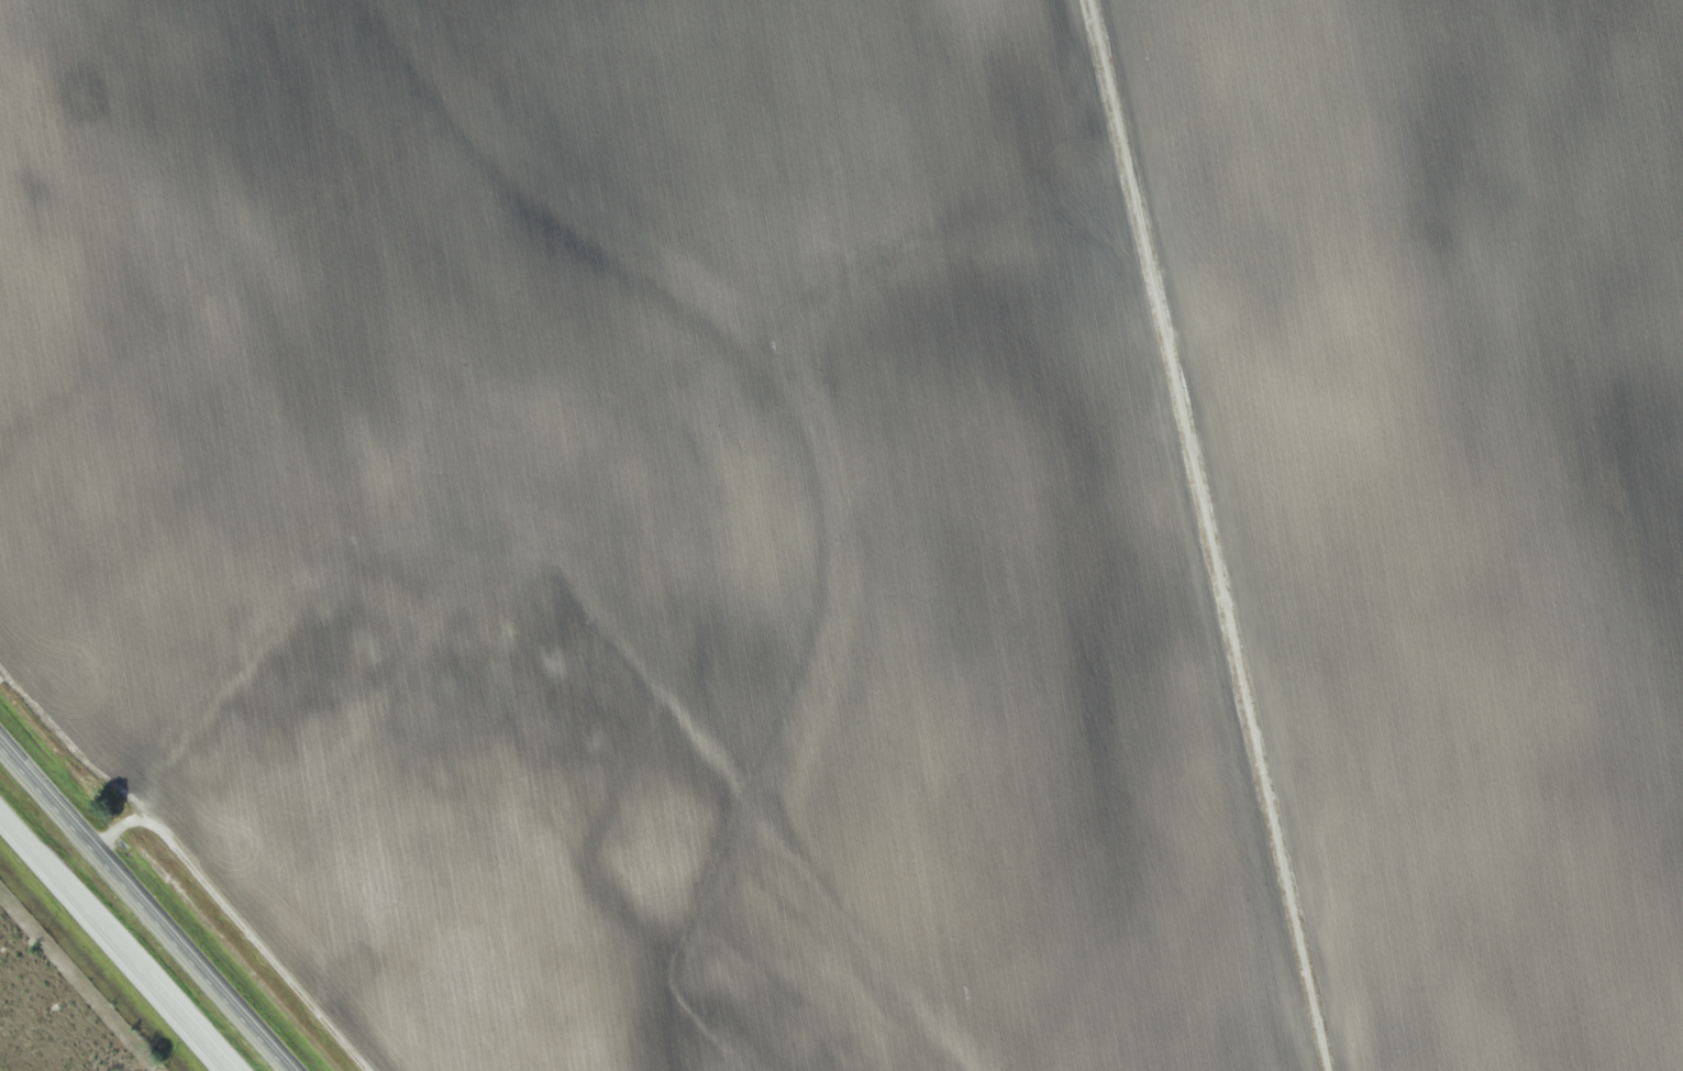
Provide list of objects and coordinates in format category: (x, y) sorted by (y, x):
road: (301, 594)
road: (143, 906)
road: (235, 918)
road: (117, 939)

